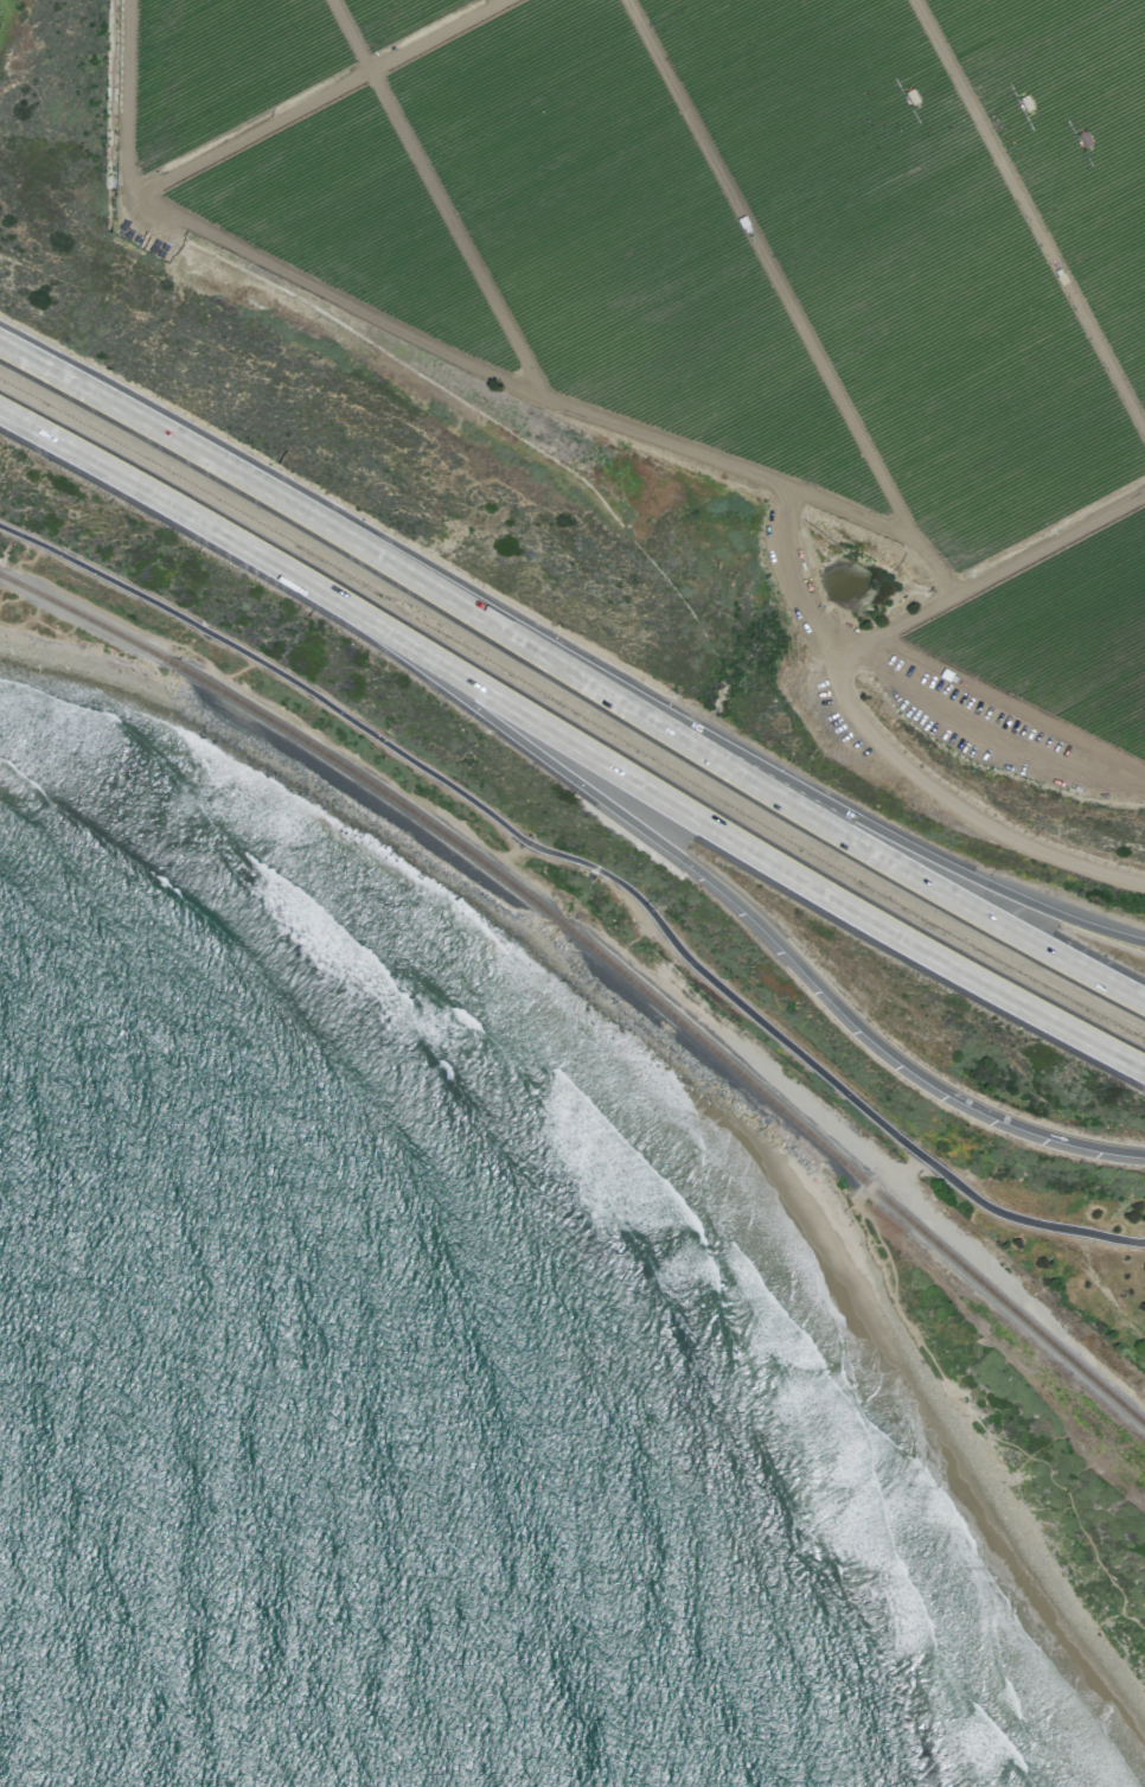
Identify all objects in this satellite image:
crop: (392, 18)
crop: (223, 65)
road: (320, 96)
crop: (1070, 139)
road: (434, 194)
road: (1029, 217)
crop: (350, 218)
crop: (618, 238)
crop: (904, 261)
road: (786, 300)
road: (427, 340)
road: (190, 516)
road: (348, 541)
railway: (2, 575)
road: (6, 599)
road: (105, 611)
railway: (81, 614)
crop: (1061, 633)
road: (210, 666)
road: (837, 685)
road: (908, 685)
road: (1010, 702)
road: (371, 776)
park: (299, 786)
road: (917, 849)
road: (759, 853)
road: (591, 864)
road: (916, 876)
road: (750, 915)
railway: (671, 1011)
park: (941, 1314)
road: (955, 1409)

